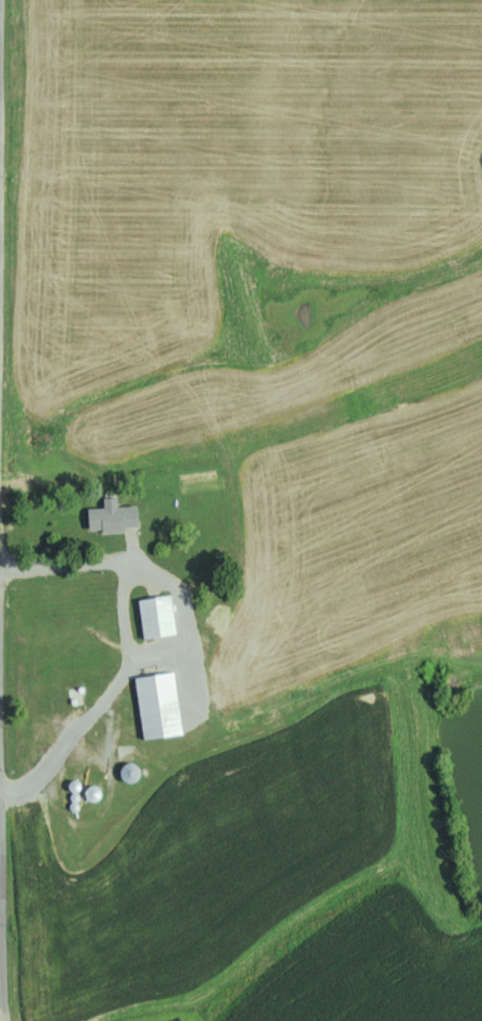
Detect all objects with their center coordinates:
road: (6, 510)
building: (112, 517)
road: (4, 558)
building: (157, 616)
building: (221, 629)
building: (76, 695)
building: (157, 705)
road: (87, 720)
building: (129, 773)
building: (91, 793)

